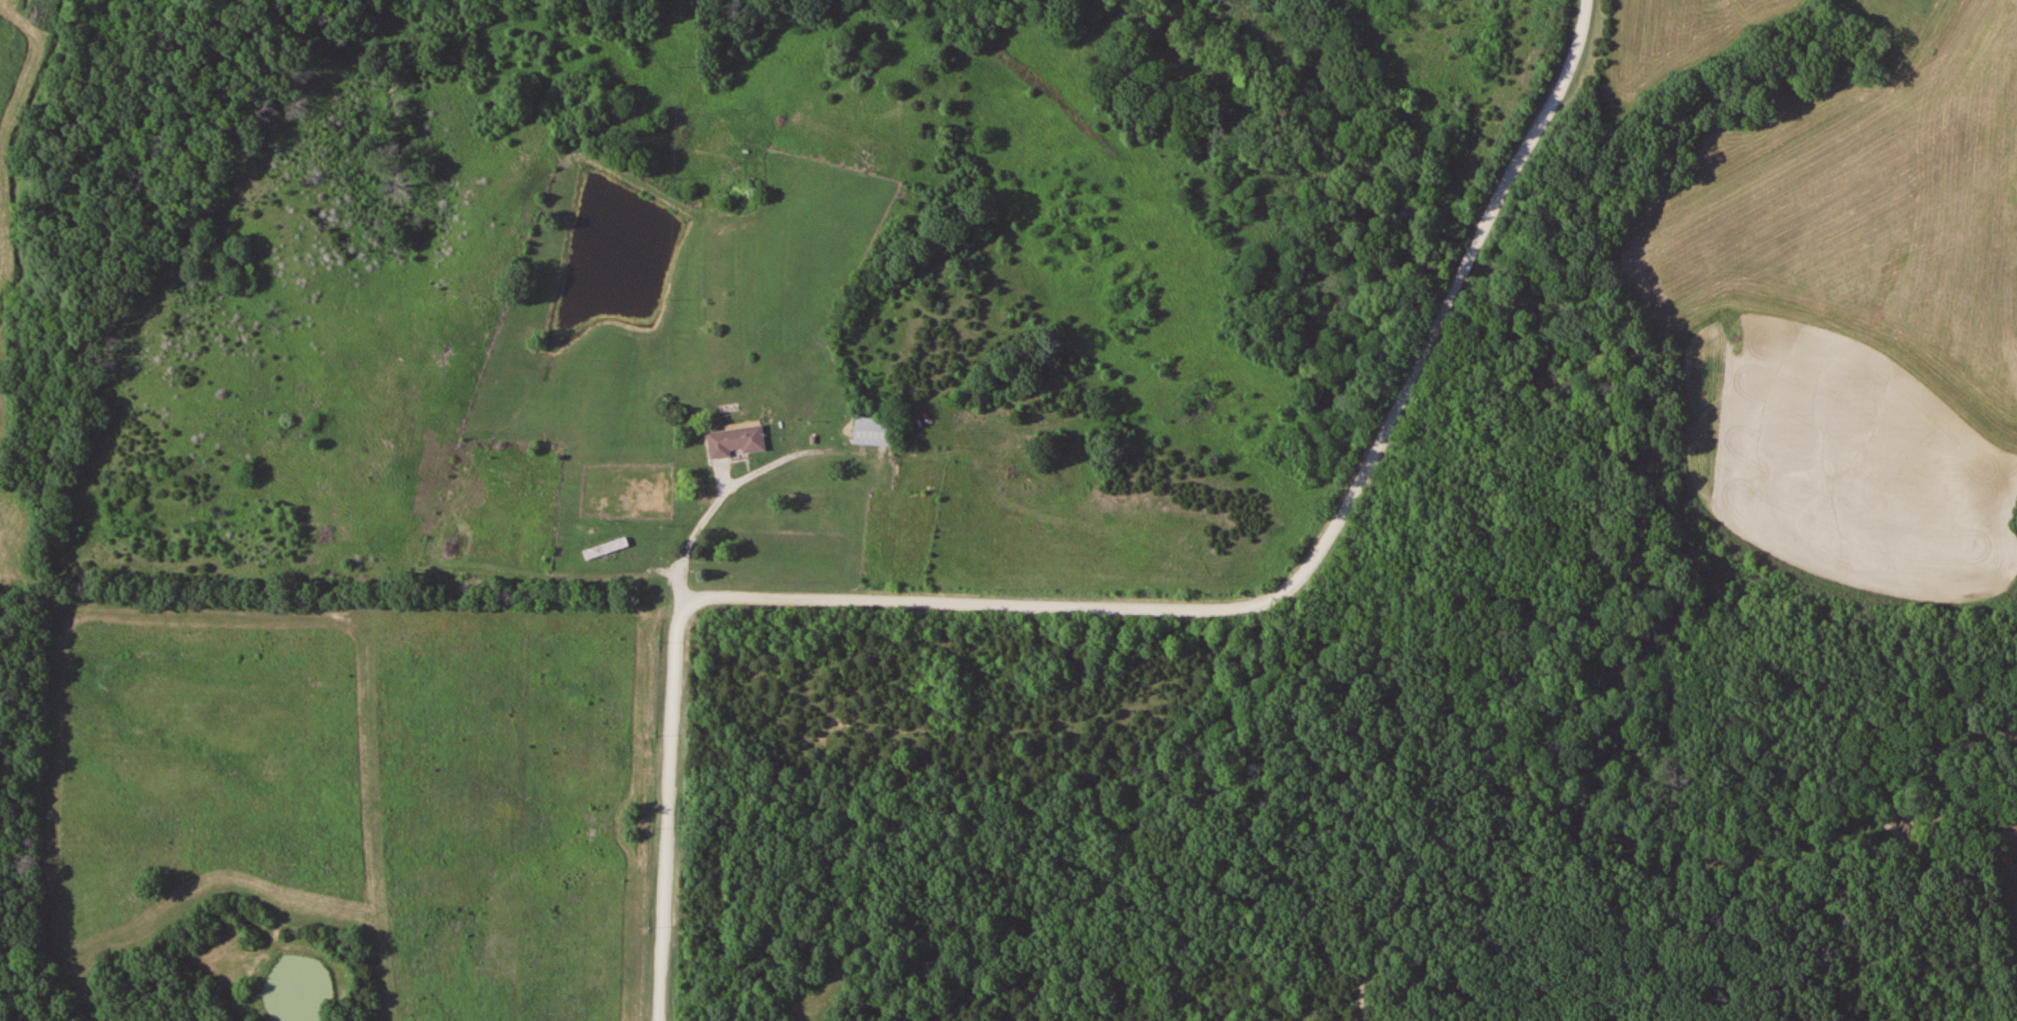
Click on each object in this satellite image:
building: (875, 431)
building: (737, 441)
road: (1107, 609)

